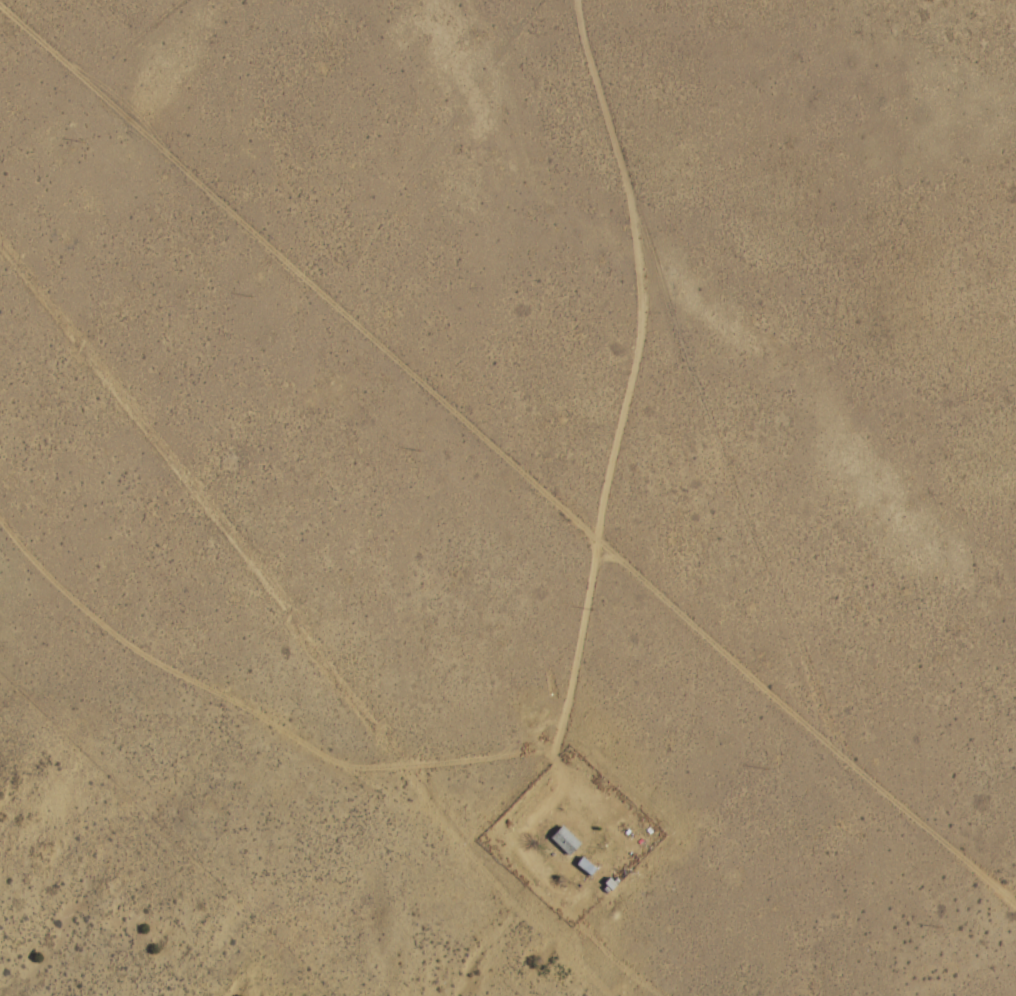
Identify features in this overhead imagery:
road: (400, 388)
road: (706, 521)
building: (564, 840)
building: (585, 865)

